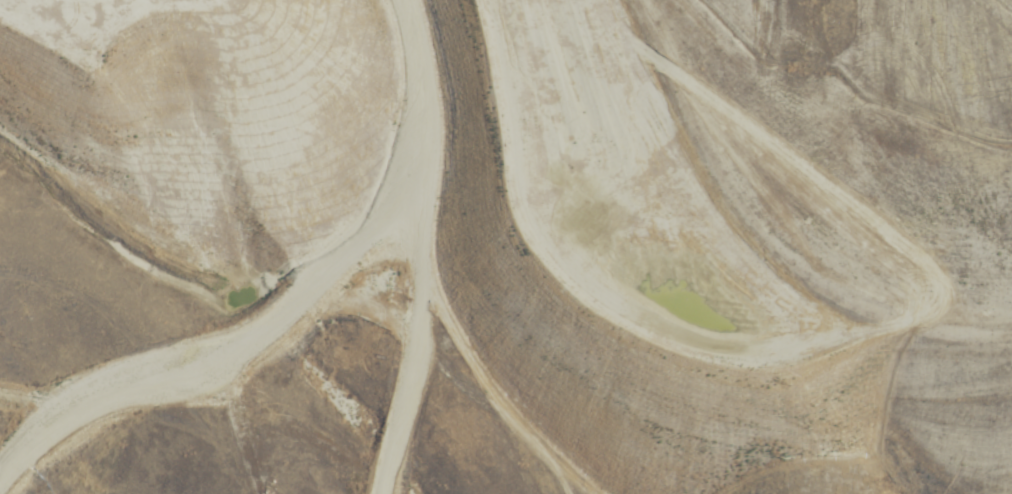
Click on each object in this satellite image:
road: (361, 146)

